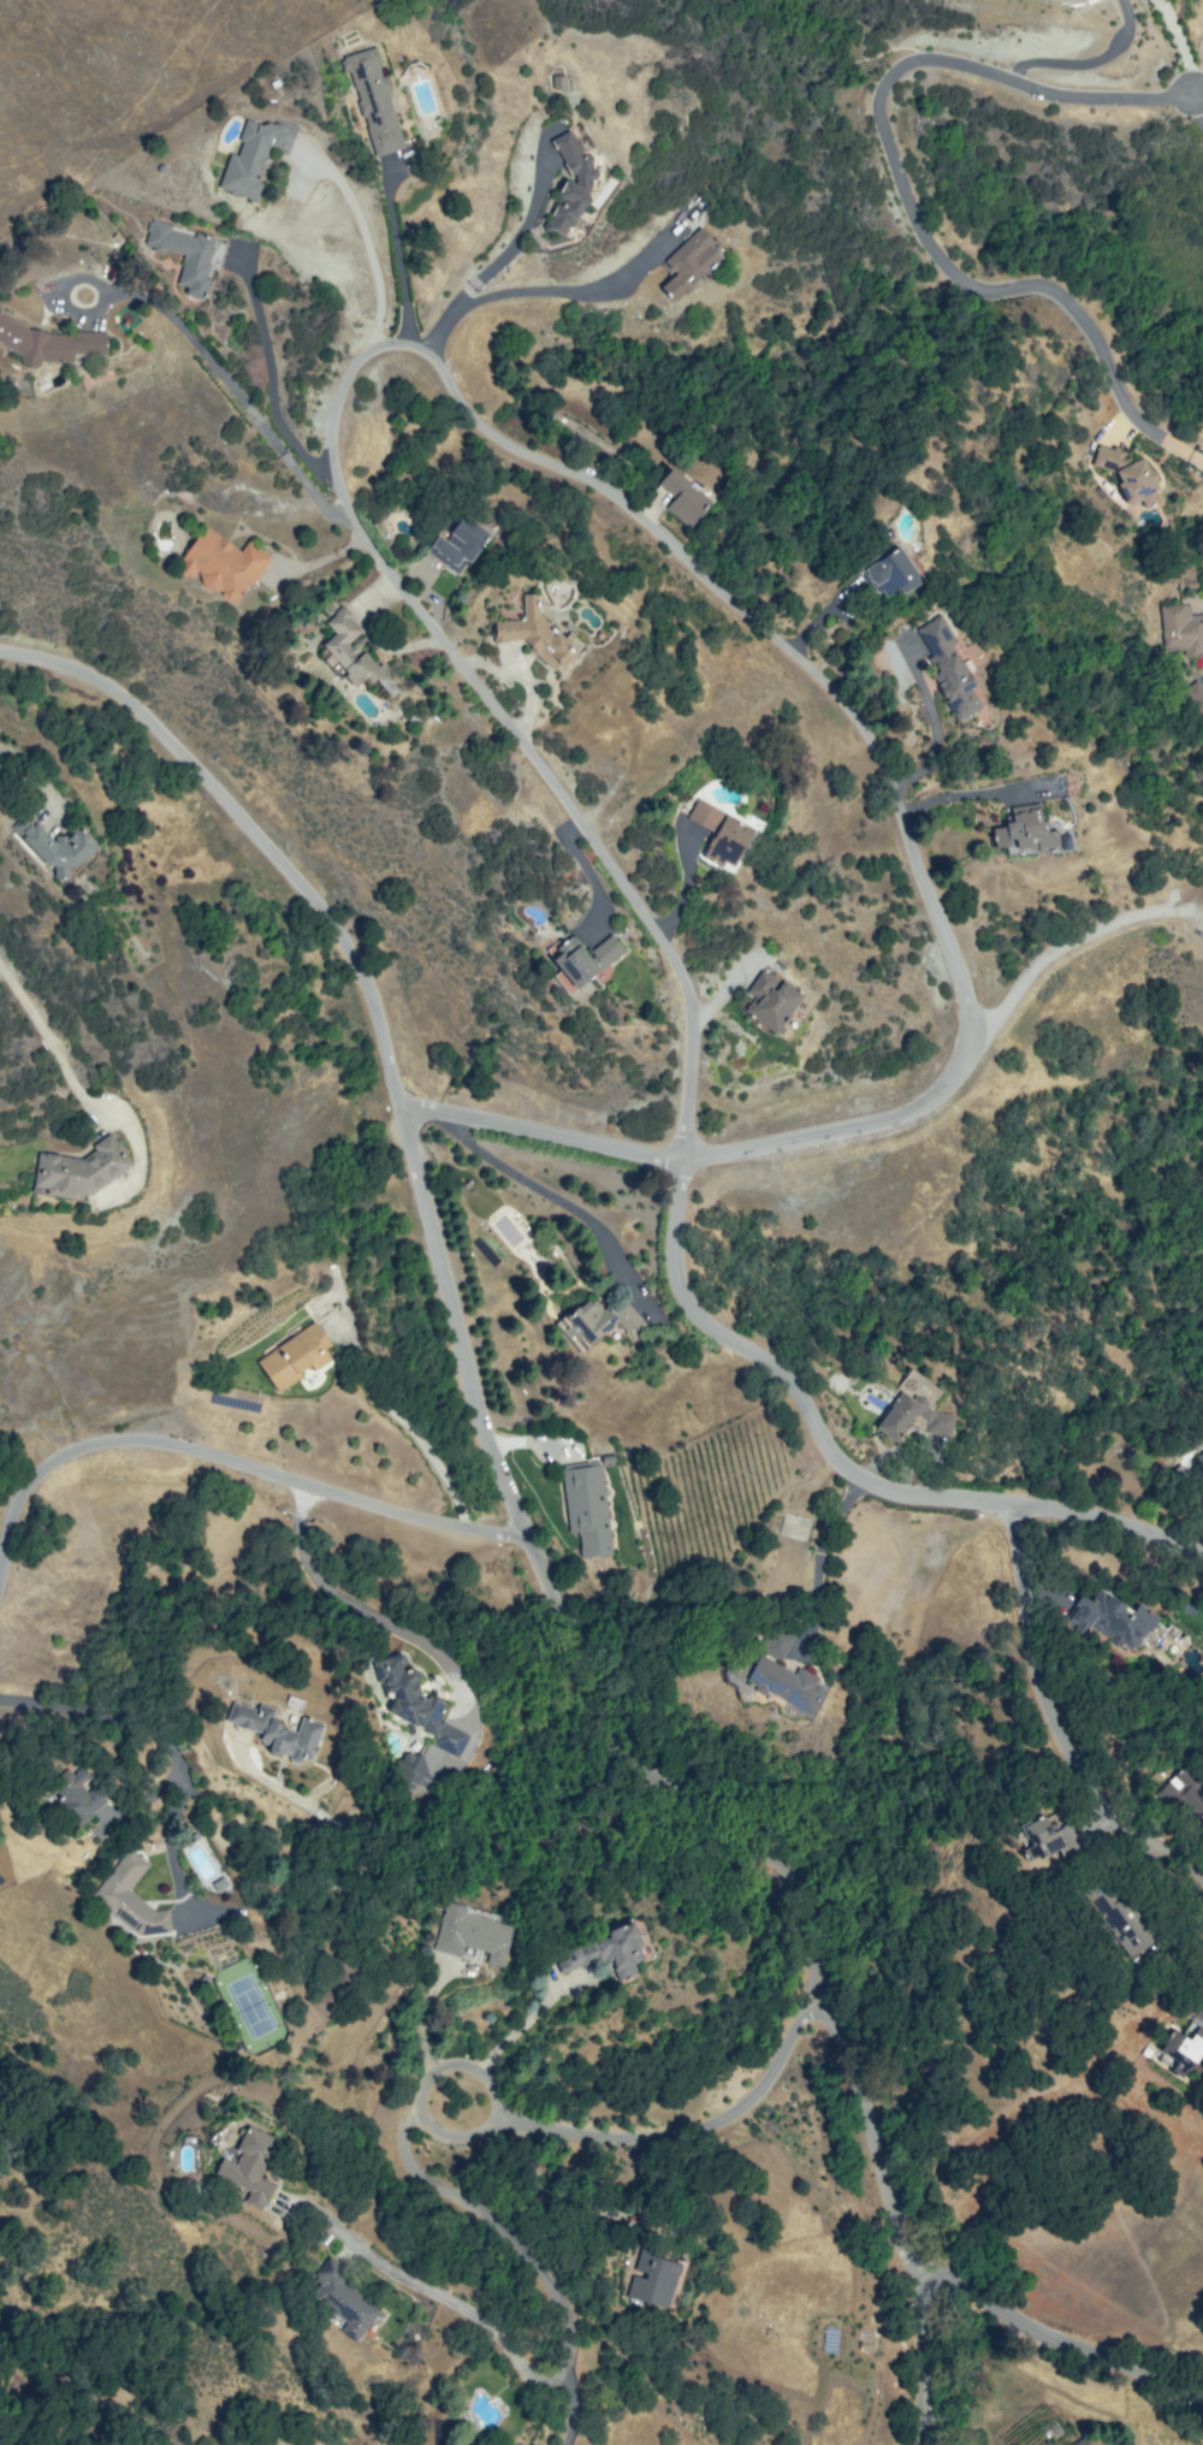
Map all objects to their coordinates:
road: (1187, 45)
road: (1083, 58)
road: (1201, 100)
building: (378, 102)
building: (253, 160)
building: (576, 182)
road: (907, 189)
road: (521, 231)
road: (362, 241)
building: (186, 251)
road: (398, 256)
building: (699, 259)
road: (546, 292)
building: (46, 341)
road: (271, 373)
road: (233, 391)
building: (1131, 473)
road: (614, 495)
building: (687, 499)
building: (461, 544)
building: (227, 563)
road: (320, 563)
building: (902, 572)
building: (1183, 626)
building: (540, 634)
building: (356, 650)
building: (959, 670)
building: (1193, 698)
road: (930, 724)
road: (36, 772)
road: (979, 797)
building: (1042, 830)
building: (728, 831)
building: (65, 846)
road: (1072, 939)
building: (586, 958)
building: (774, 995)
road: (52, 1046)
road: (543, 1131)
building: (87, 1171)
road: (544, 1189)
building: (601, 1316)
building: (298, 1357)
road: (386, 1414)
building: (917, 1419)
road: (494, 1428)
building: (1201, 1455)
road: (843, 1464)
road: (227, 1467)
building: (588, 1509)
building: (794, 1526)
road: (819, 1550)
building: (1132, 1626)
building: (789, 1644)
building: (794, 1680)
road: (1048, 1703)
building: (426, 1707)
road: (113, 1713)
road: (479, 1721)
building: (282, 1731)
building: (416, 1766)
building: (78, 1795)
building: (1183, 1796)
building: (1054, 1839)
road: (172, 1849)
building: (129, 1893)
building: (1137, 1926)
building: (479, 1937)
building: (618, 1956)
road: (423, 2025)
road: (525, 2033)
building: (1187, 2049)
road: (432, 2131)
road: (685, 2132)
building: (259, 2163)
road: (497, 2221)
road: (349, 2225)
building: (664, 2279)
building: (360, 2295)
building: (340, 2298)
road: (469, 2320)
road: (1063, 2345)
road: (920, 2346)
road: (569, 2414)
building: (1079, 2441)

